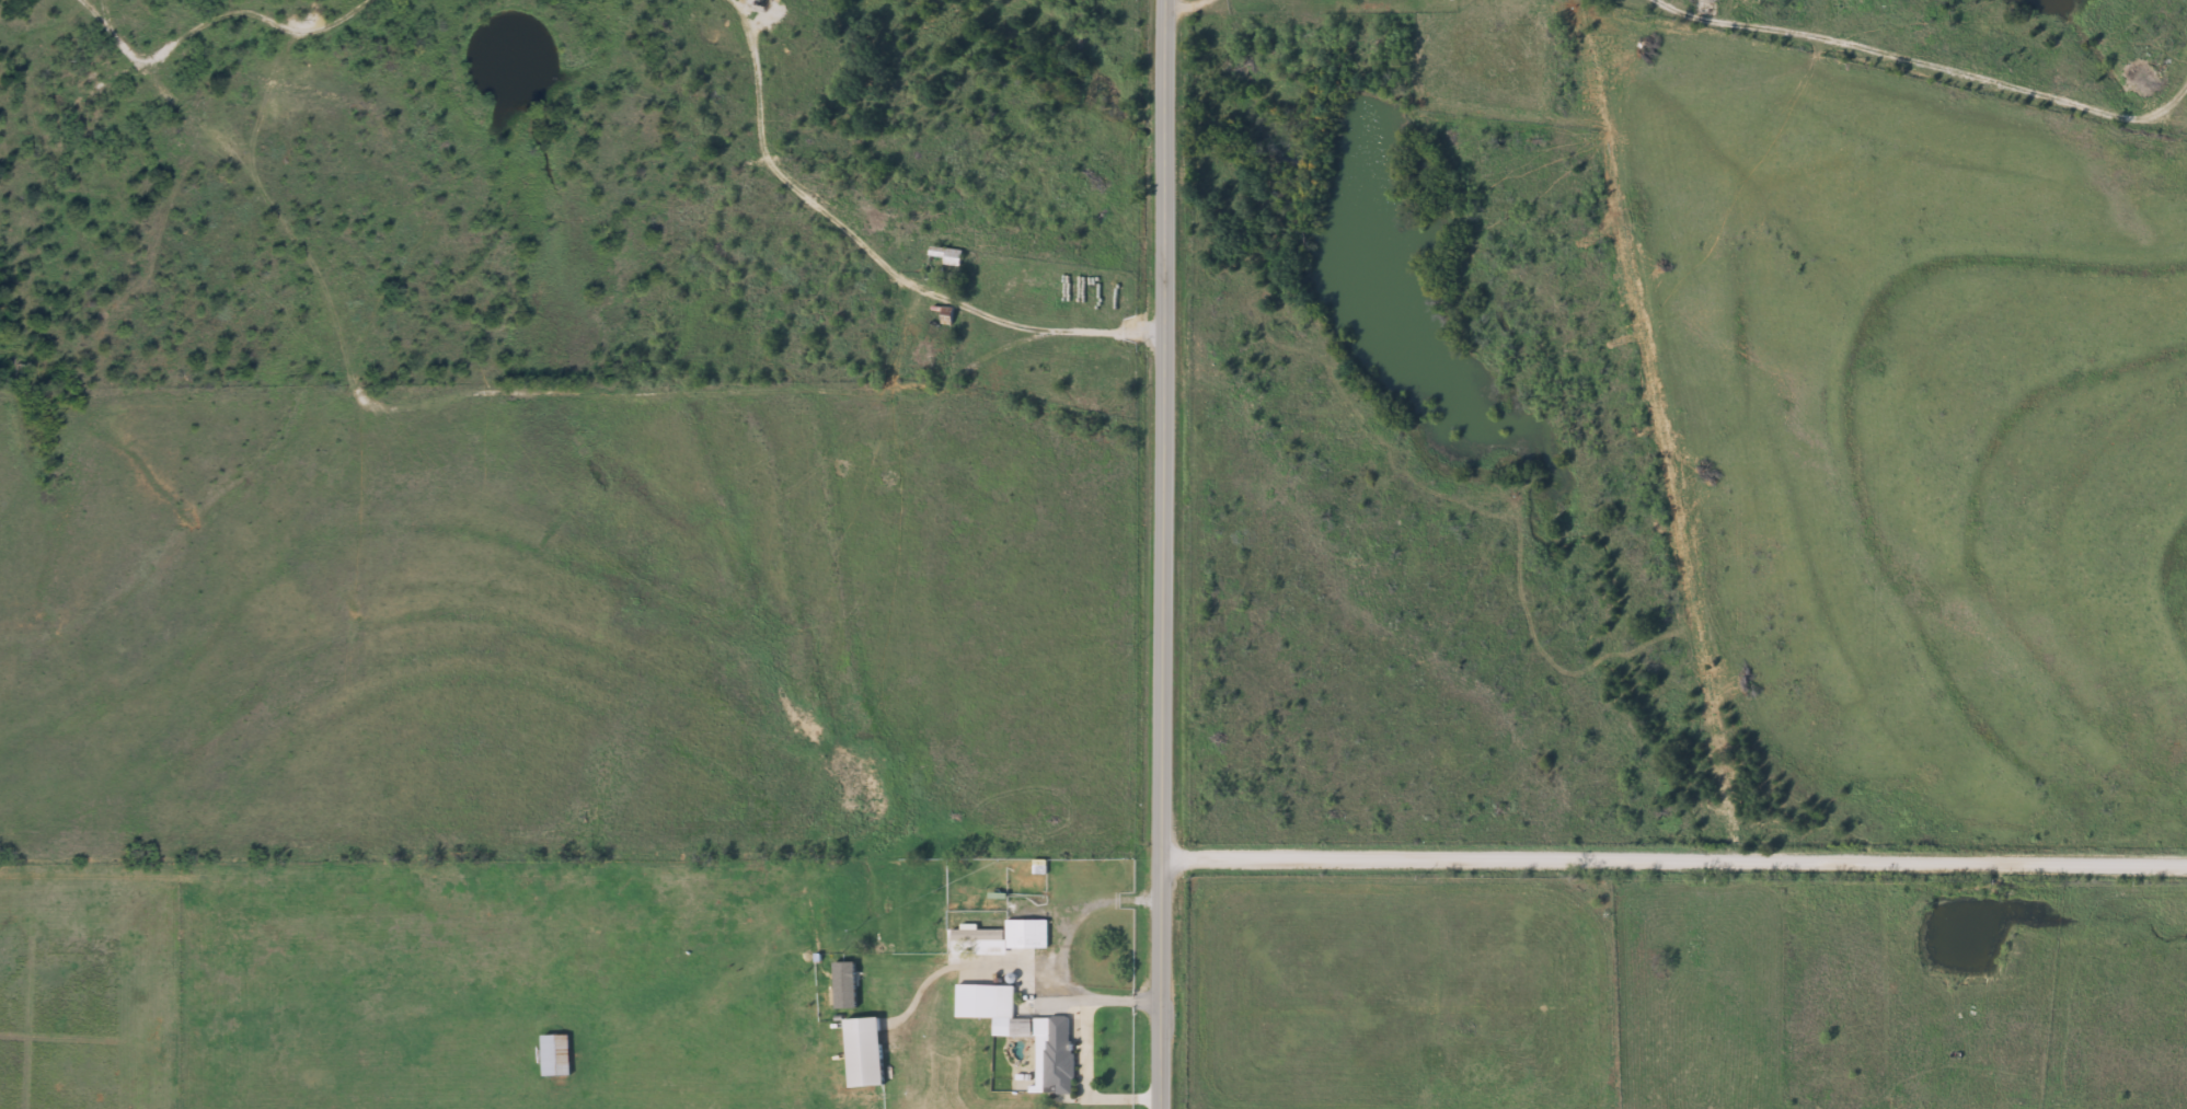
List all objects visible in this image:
road: (1188, 8)
road: (1925, 63)
building: (946, 254)
road: (1169, 554)
road: (1677, 859)
building: (1026, 933)
building: (1055, 1051)
building: (864, 1052)
building: (556, 1054)

